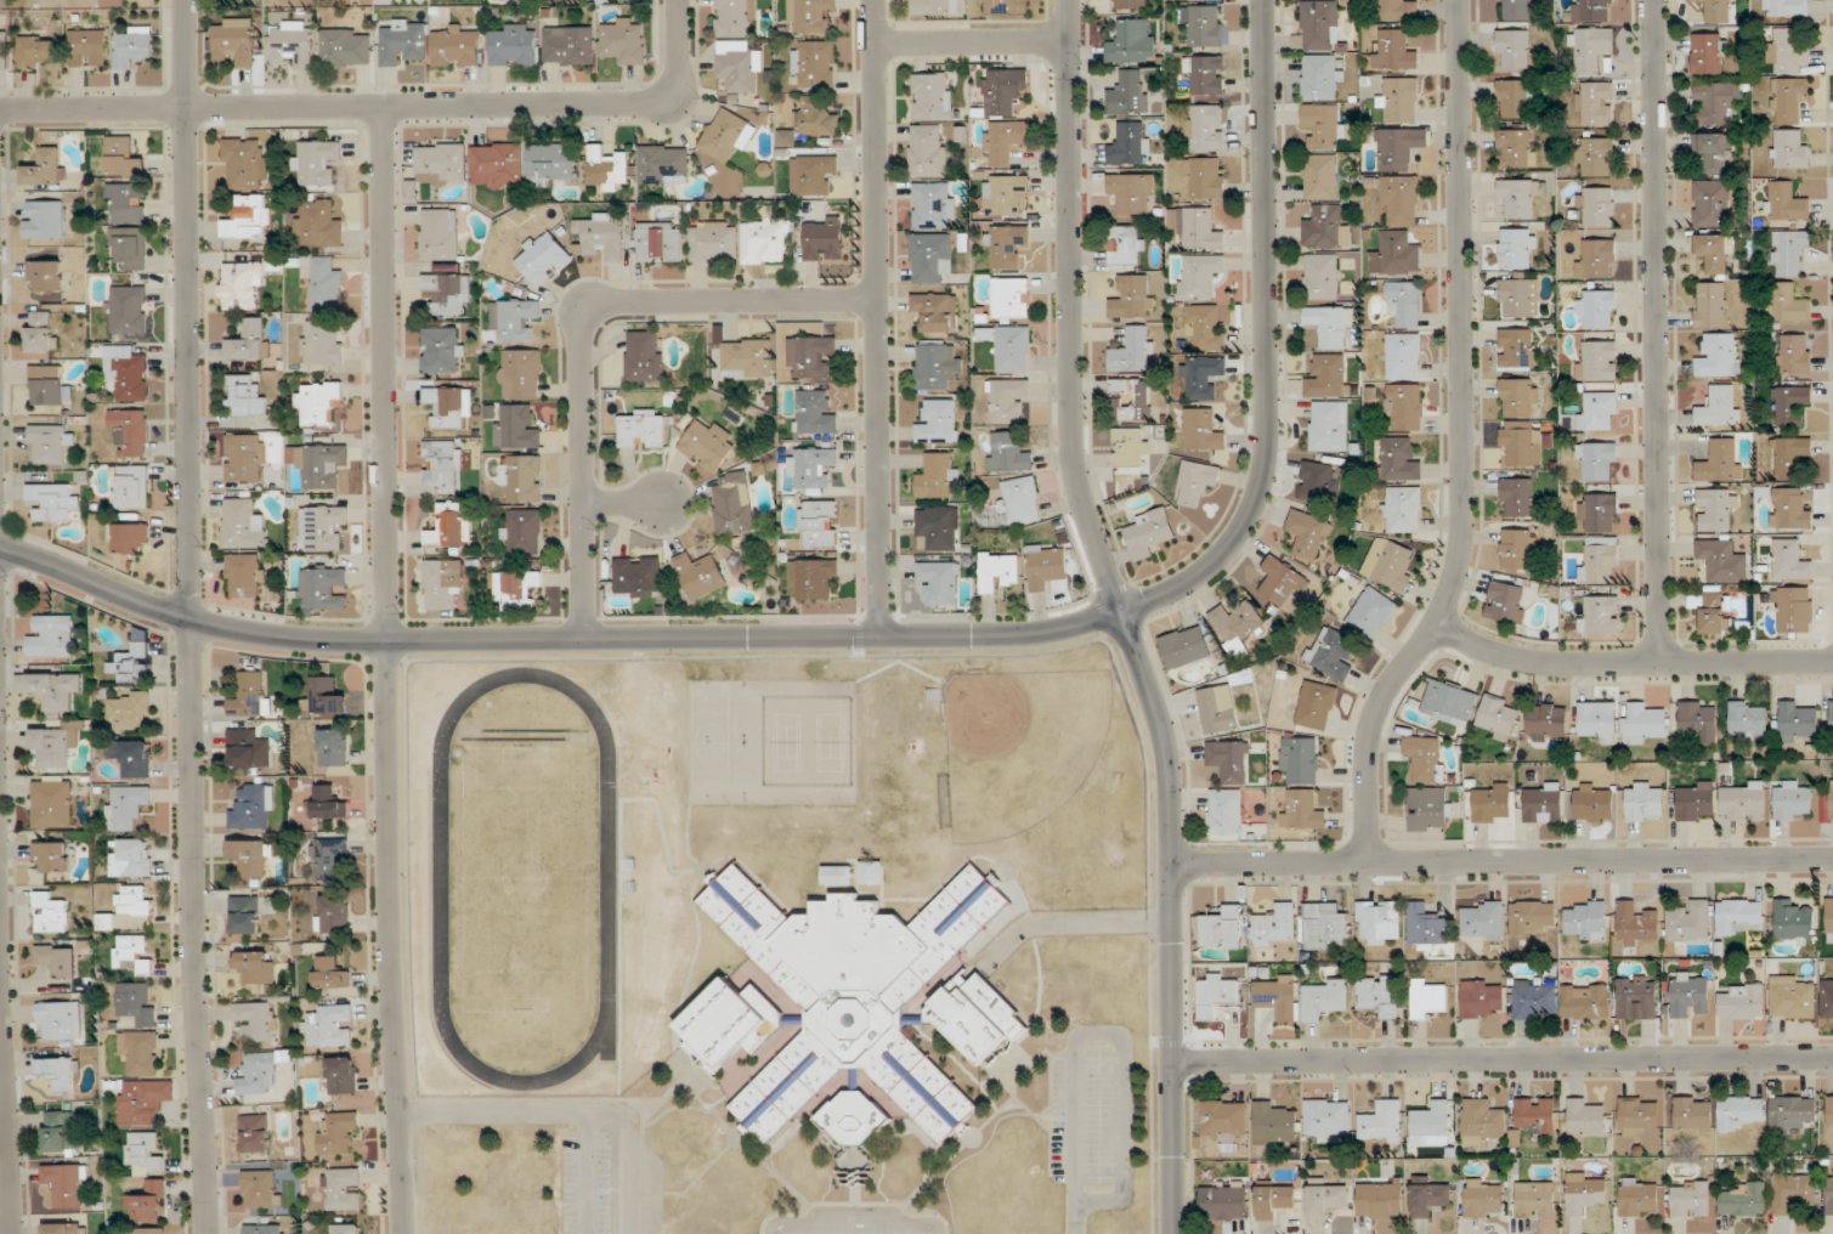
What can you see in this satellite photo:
building: (1132, 4)
building: (933, 6)
building: (1005, 6)
building: (1786, 7)
building: (1517, 9)
building: (1397, 10)
building: (1594, 10)
building: (1718, 11)
building: (810, 16)
building: (735, 18)
building: (1319, 24)
building: (1204, 26)
building: (236, 40)
building: (294, 41)
building: (1133, 41)
building: (404, 43)
building: (621, 43)
road: (971, 43)
building: (456, 45)
building: (513, 45)
building: (567, 45)
building: (87, 47)
building: (132, 47)
building: (346, 47)
building: (4, 49)
building: (1514, 49)
building: (1590, 49)
building: (1393, 50)
building: (34, 51)
building: (1787, 52)
building: (1708, 53)
building: (814, 63)
building: (737, 66)
building: (1204, 74)
building: (1320, 77)
building: (1003, 91)
building: (1130, 94)
building: (933, 96)
building: (1515, 98)
building: (1788, 98)
building: (1401, 100)
building: (1714, 101)
building: (1596, 102)
road: (386, 106)
building: (811, 121)
building: (1323, 124)
building: (1205, 126)
building: (726, 135)
building: (1003, 141)
building: (1130, 145)
building: (1397, 148)
building: (1516, 148)
building: (1789, 148)
building: (927, 151)
building: (1713, 151)
building: (1595, 155)
building: (123, 157)
building: (315, 162)
building: (441, 162)
building: (244, 163)
building: (549, 163)
building: (663, 164)
building: (497, 165)
building: (45, 166)
building: (606, 170)
building: (811, 174)
building: (1319, 176)
building: (1204, 177)
building: (1132, 192)
building: (1005, 194)
building: (1518, 197)
building: (1398, 198)
building: (1786, 200)
building: (126, 203)
building: (1710, 204)
building: (933, 205)
building: (1596, 206)
building: (44, 219)
building: (248, 219)
building: (318, 225)
building: (1326, 227)
building: (1198, 230)
building: (439, 233)
building: (602, 233)
building: (822, 239)
building: (713, 240)
building: (766, 240)
building: (660, 242)
building: (1126, 244)
building: (1006, 245)
building: (130, 247)
building: (1517, 248)
building: (1788, 251)
building: (1714, 253)
building: (1396, 254)
building: (542, 256)
building: (929, 256)
building: (1596, 259)
building: (45, 274)
building: (1199, 276)
building: (1322, 276)
building: (241, 285)
building: (326, 285)
building: (448, 291)
building: (1133, 296)
building: (1011, 298)
building: (1518, 298)
building: (1404, 302)
building: (1787, 302)
building: (1710, 304)
building: (1596, 308)
building: (129, 310)
building: (935, 311)
road: (876, 317)
building: (1205, 326)
building: (1329, 326)
road: (579, 328)
road: (1654, 330)
building: (40, 332)
building: (250, 340)
road: (1267, 340)
building: (322, 343)
building: (1518, 347)
building: (1013, 349)
building: (442, 350)
building: (1133, 350)
building: (1794, 353)
building: (644, 356)
building: (1403, 356)
building: (1719, 356)
building: (747, 357)
building: (811, 357)
building: (1597, 360)
building: (933, 364)
building: (126, 372)
building: (520, 374)
building: (1201, 377)
building: (1328, 377)
building: (49, 386)
building: (245, 396)
building: (1518, 397)
building: (1008, 400)
building: (1131, 400)
building: (319, 402)
building: (449, 404)
building: (1789, 404)
building: (1720, 406)
building: (1404, 407)
building: (1597, 411)
building: (814, 413)
building: (939, 423)
building: (1328, 426)
building: (515, 428)
building: (643, 429)
building: (130, 430)
building: (1201, 430)
building: (47, 443)
road: (1463, 443)
building: (1520, 443)
building: (707, 445)
building: (1130, 447)
building: (1007, 452)
building: (1790, 454)
building: (245, 457)
building: (1398, 459)
building: (1596, 460)
building: (1721, 460)
building: (318, 464)
building: (442, 465)
building: (810, 465)
building: (938, 475)
building: (522, 479)
building: (1195, 482)
building: (1318, 483)
building: (130, 487)
building: (1517, 497)
building: (53, 500)
building: (1019, 500)
building: (734, 504)
road: (623, 508)
building: (1792, 508)
building: (1402, 509)
building: (1716, 509)
building: (1599, 513)
building: (819, 523)
building: (243, 525)
building: (449, 526)
building: (321, 527)
building: (939, 527)
building: (522, 531)
building: (1148, 533)
building: (1307, 536)
building: (131, 538)
building: (1517, 549)
building: (1600, 559)
building: (1722, 560)
building: (1789, 561)
building: (1046, 564)
building: (1390, 564)
building: (997, 570)
building: (701, 573)
building: (245, 574)
building: (638, 577)
building: (813, 578)
building: (1282, 581)
building: (940, 582)
building: (442, 583)
building: (324, 588)
building: (515, 589)
building: (1506, 601)
building: (1793, 610)
building: (1713, 611)
building: (1371, 612)
building: (1599, 615)
road: (1124, 616)
road: (188, 617)
building: (1235, 626)
building: (51, 635)
road: (554, 639)
building: (1184, 646)
building: (1331, 653)
road: (1630, 662)
building: (131, 663)
road: (386, 670)
building: (50, 689)
building: (250, 695)
building: (326, 696)
building: (1449, 702)
building: (1316, 706)
building: (1217, 708)
building: (129, 711)
building: (1498, 717)
building: (1831, 718)
building: (1698, 719)
building: (1748, 720)
building: (1798, 720)
building: (1545, 721)
building: (1597, 721)
building: (1647, 723)
building: (55, 745)
building: (333, 747)
building: (915, 747)
building: (248, 749)
building: (131, 757)
building: (1425, 758)
building: (1228, 760)
building: (1300, 760)
building: (1831, 798)
building: (1792, 799)
building: (1695, 800)
building: (1746, 800)
building: (51, 802)
building: (1541, 802)
building: (1594, 802)
building: (329, 803)
building: (1490, 803)
building: (1644, 803)
building: (126, 806)
building: (253, 806)
building: (1427, 809)
building: (1302, 810)
building: (1224, 811)
building: (50, 856)
building: (250, 857)
building: (327, 857)
building: (131, 859)
road: (1501, 861)
building: (871, 872)
building: (838, 874)
park: (525, 878)
track: (442, 883)
building: (132, 900)
building: (50, 912)
building: (333, 913)
building: (244, 915)
building: (1737, 915)
building: (1533, 916)
building: (1829, 918)
building: (1482, 919)
building: (1379, 921)
building: (1586, 921)
building: (1690, 922)
building: (1793, 922)
road: (1068, 923)
building: (1636, 924)
building: (1274, 925)
building: (1325, 925)
building: (1222, 928)
building: (1426, 928)
building: (132, 955)
building: (56, 960)
building: (255, 966)
building: (330, 973)
building: (854, 992)
building: (1216, 994)
building: (1379, 995)
building: (1690, 995)
building: (1793, 996)
building: (1278, 997)
building: (1429, 997)
building: (1533, 997)
building: (1636, 997)
building: (1827, 997)
building: (1324, 998)
building: (1481, 998)
building: (136, 1002)
building: (1584, 1002)
building: (1742, 1002)
building: (979, 1019)
building: (258, 1020)
building: (58, 1021)
building: (734, 1024)
building: (329, 1026)
road: (1120, 1038)
building: (140, 1051)
road: (1503, 1060)
building: (60, 1072)
building: (341, 1075)
building: (142, 1102)
road: (4, 1108)
building: (1738, 1110)
building: (1829, 1110)
road: (573, 1111)
building: (1790, 1111)
building: (1692, 1113)
building: (1534, 1115)
building: (1328, 1116)
building: (1637, 1116)
building: (856, 1117)
building: (1224, 1117)
building: (1585, 1117)
building: (1381, 1122)
building: (1480, 1122)
building: (1274, 1123)
building: (1431, 1125)
building: (60, 1132)
building: (338, 1132)
building: (255, 1133)
building: (145, 1153)
road: (587, 1172)
building: (68, 1184)
building: (261, 1189)
building: (343, 1189)
building: (1584, 1193)
building: (1794, 1193)
building: (1829, 1194)
building: (1325, 1196)
building: (1483, 1198)
building: (1639, 1198)
building: (1691, 1198)
building: (1381, 1199)
building: (1429, 1199)
building: (1223, 1200)
building: (1274, 1200)
building: (1535, 1200)
building: (1744, 1200)
building: (147, 1201)
road: (1076, 1217)
road: (854, 1224)
building: (347, 1228)
building: (264, 1229)
building: (149, 1230)

